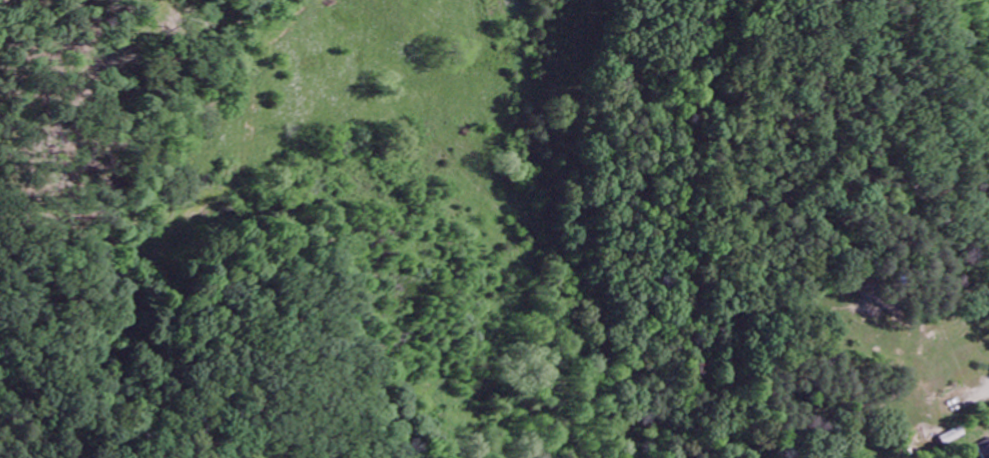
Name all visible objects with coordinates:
road: (838, 95)
building: (952, 437)
building: (985, 452)

